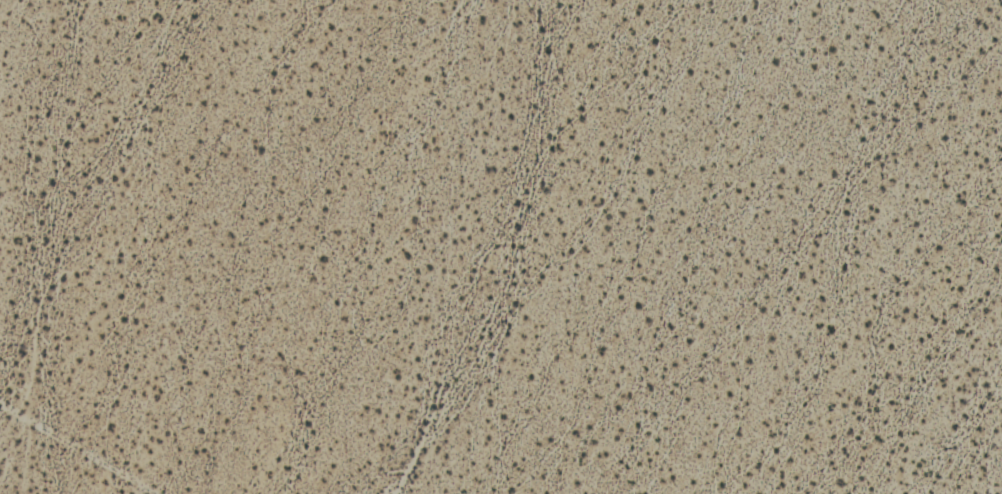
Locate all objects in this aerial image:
road: (88, 443)

